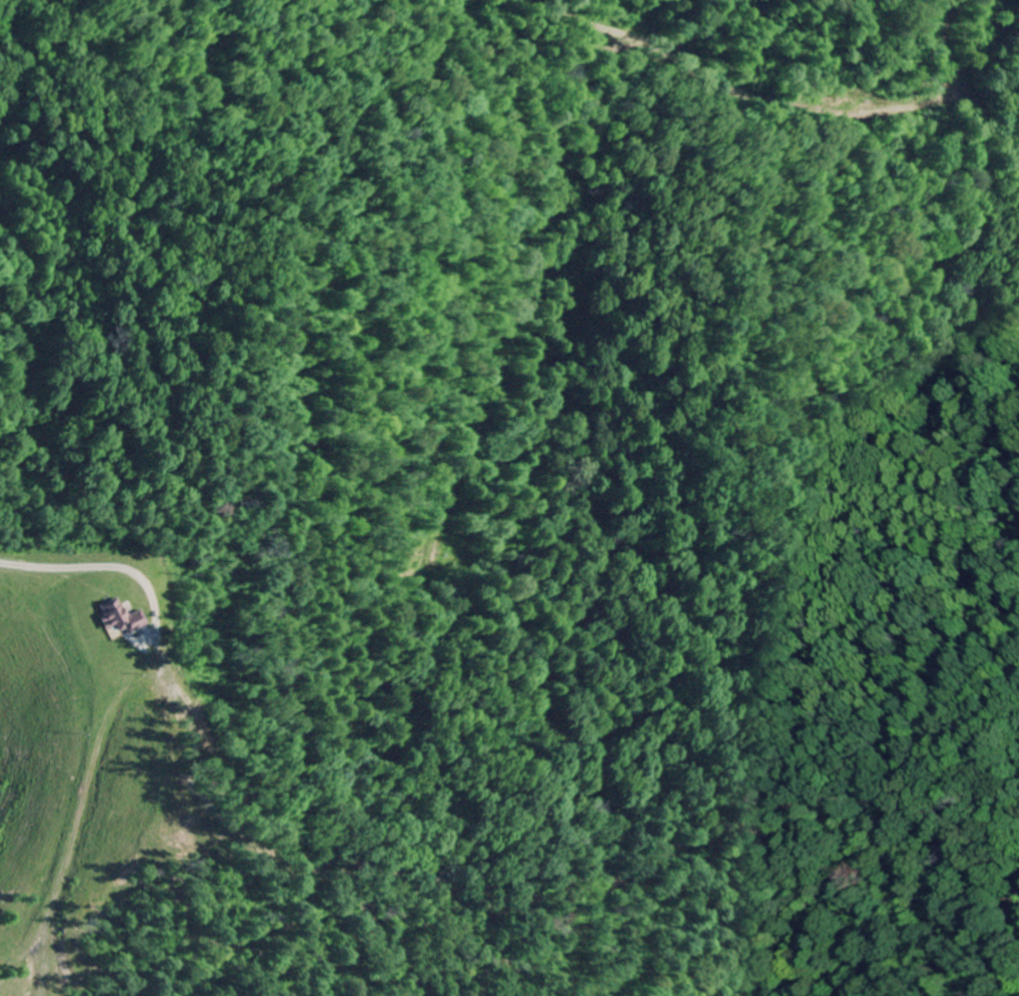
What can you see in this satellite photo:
building: (120, 618)

